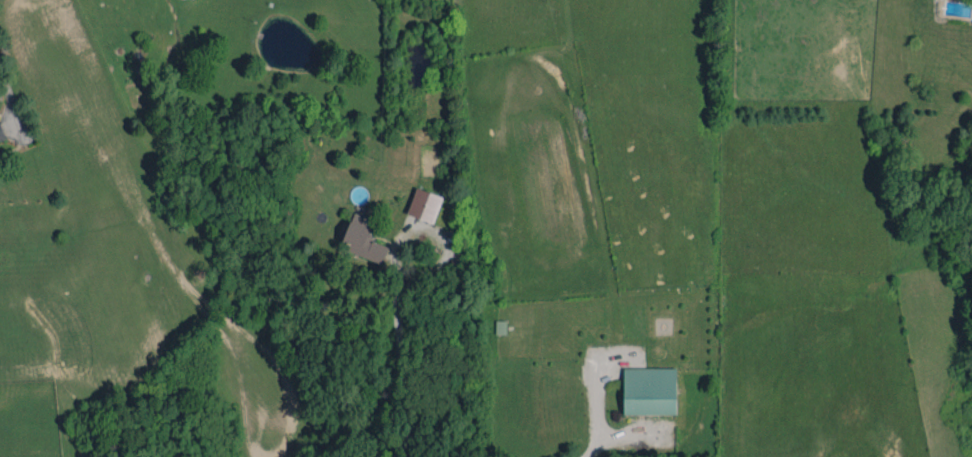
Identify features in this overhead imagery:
road: (5, 87)
building: (1, 133)
building: (424, 204)
building: (362, 238)
building: (500, 326)
road: (403, 373)
building: (649, 390)
road: (593, 446)

